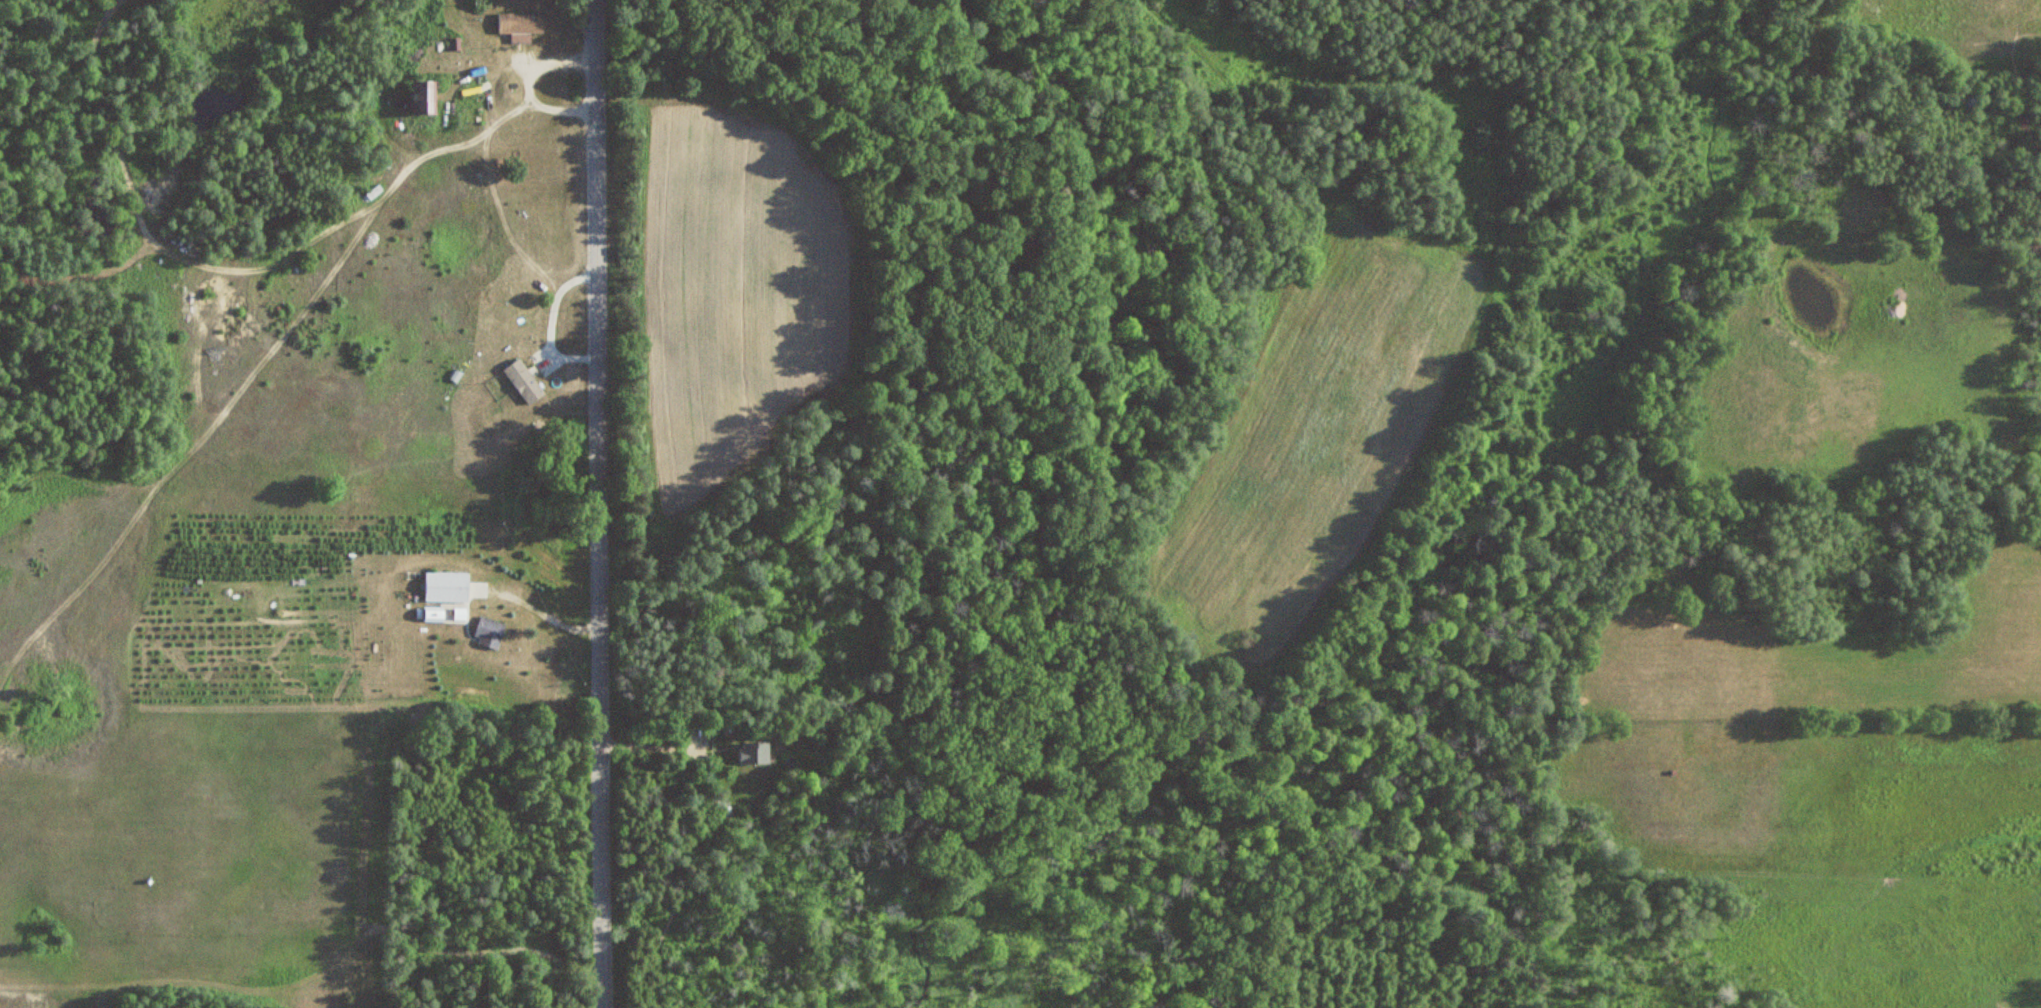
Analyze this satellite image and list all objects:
building: (520, 23)
building: (424, 97)
building: (523, 381)
road: (588, 504)
building: (446, 586)
building: (488, 632)
building: (755, 751)

